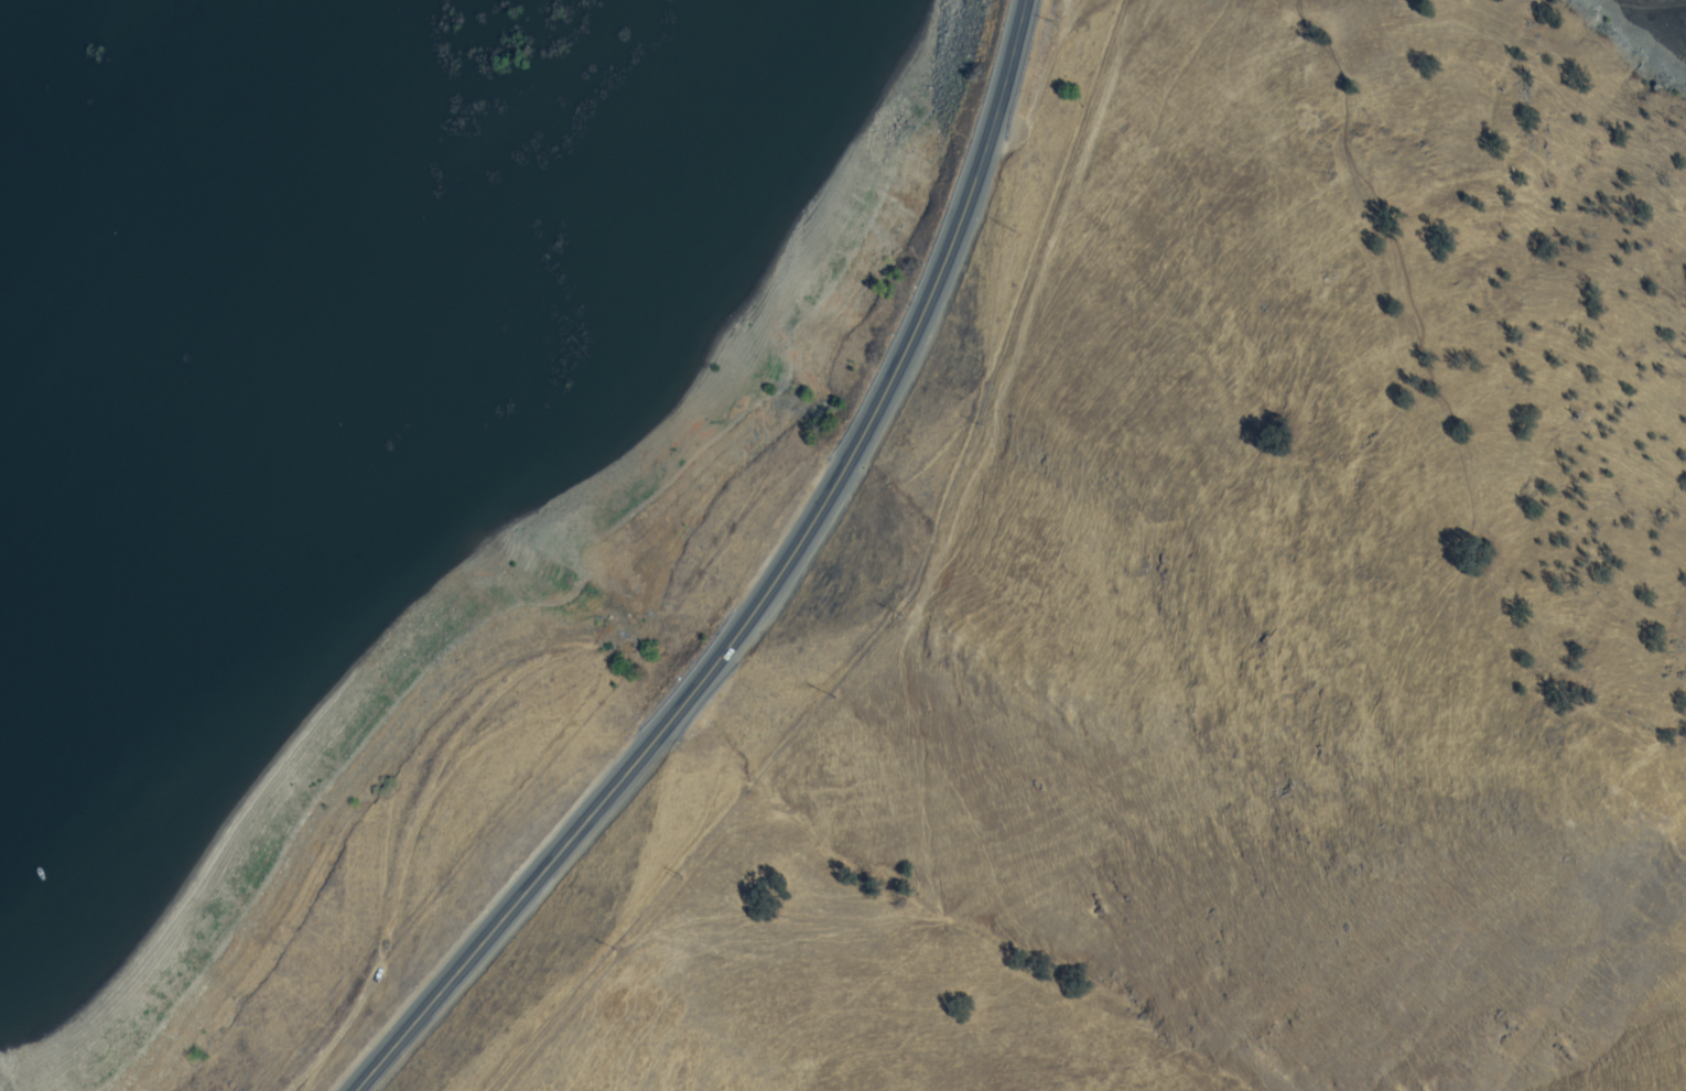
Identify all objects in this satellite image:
river: (310, 338)
road: (767, 591)

